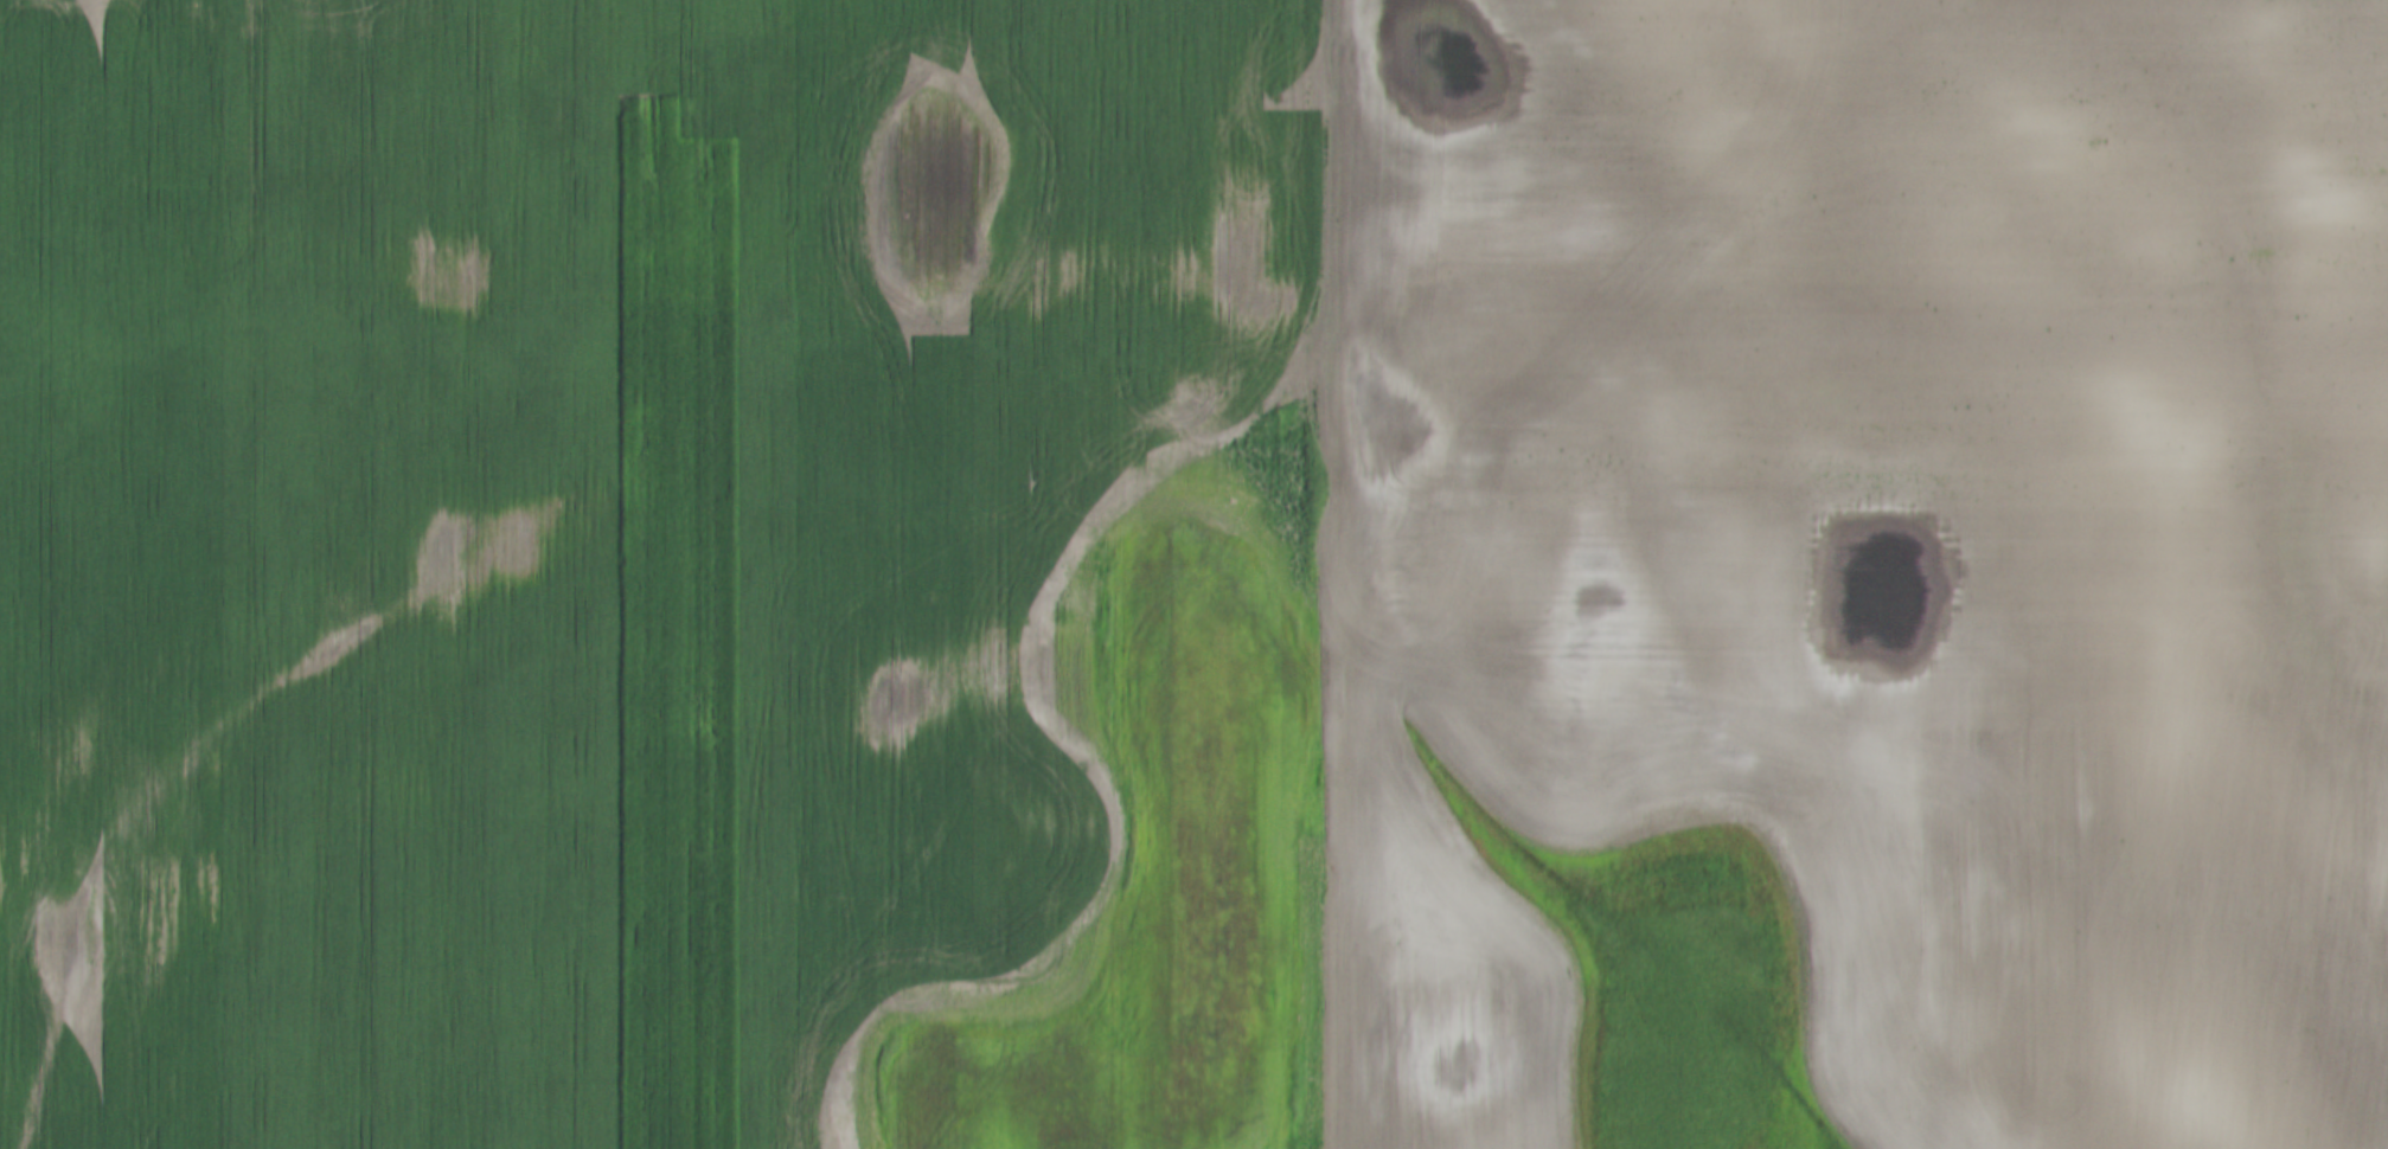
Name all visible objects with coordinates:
road: (1330, 574)

